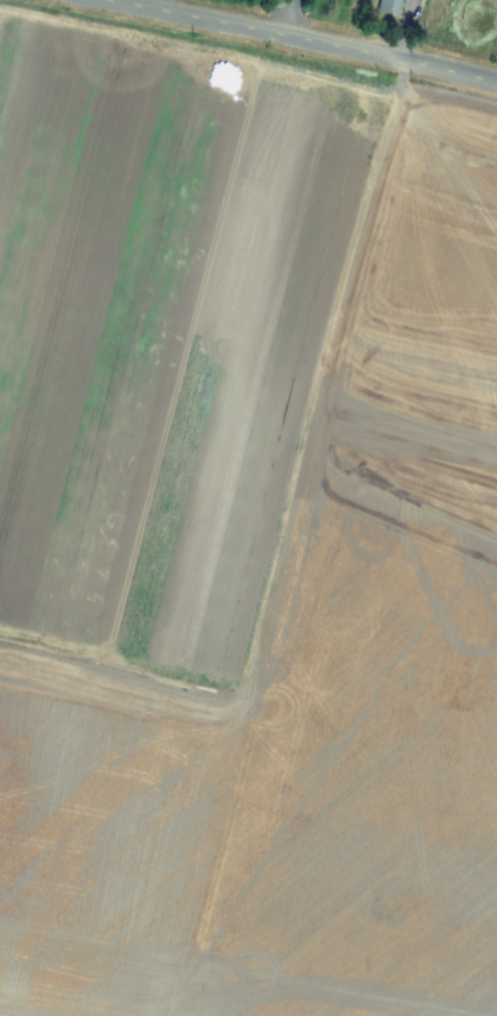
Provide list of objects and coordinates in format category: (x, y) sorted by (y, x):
road: (151, 3)
building: (388, 6)
road: (281, 16)
crop: (404, 21)
road: (308, 38)
crop: (243, 528)

